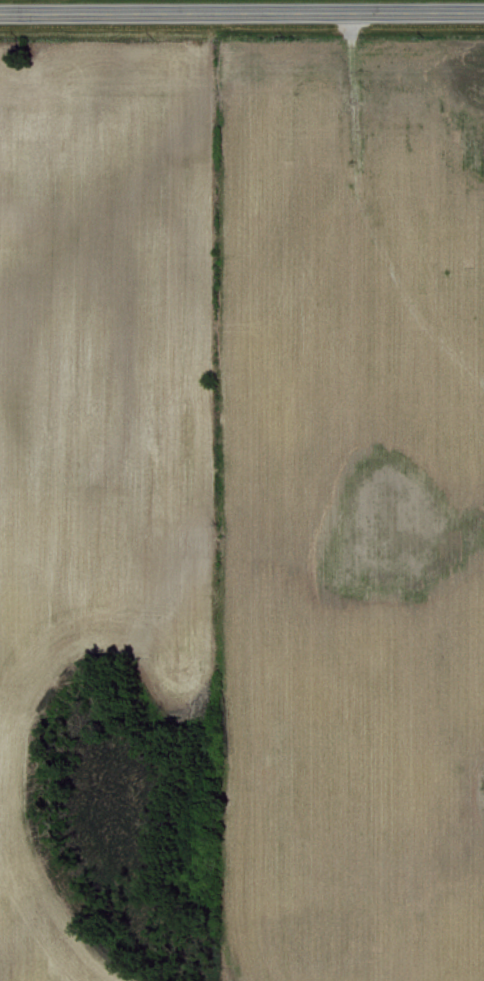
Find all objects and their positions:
road: (241, 12)
road: (363, 220)

